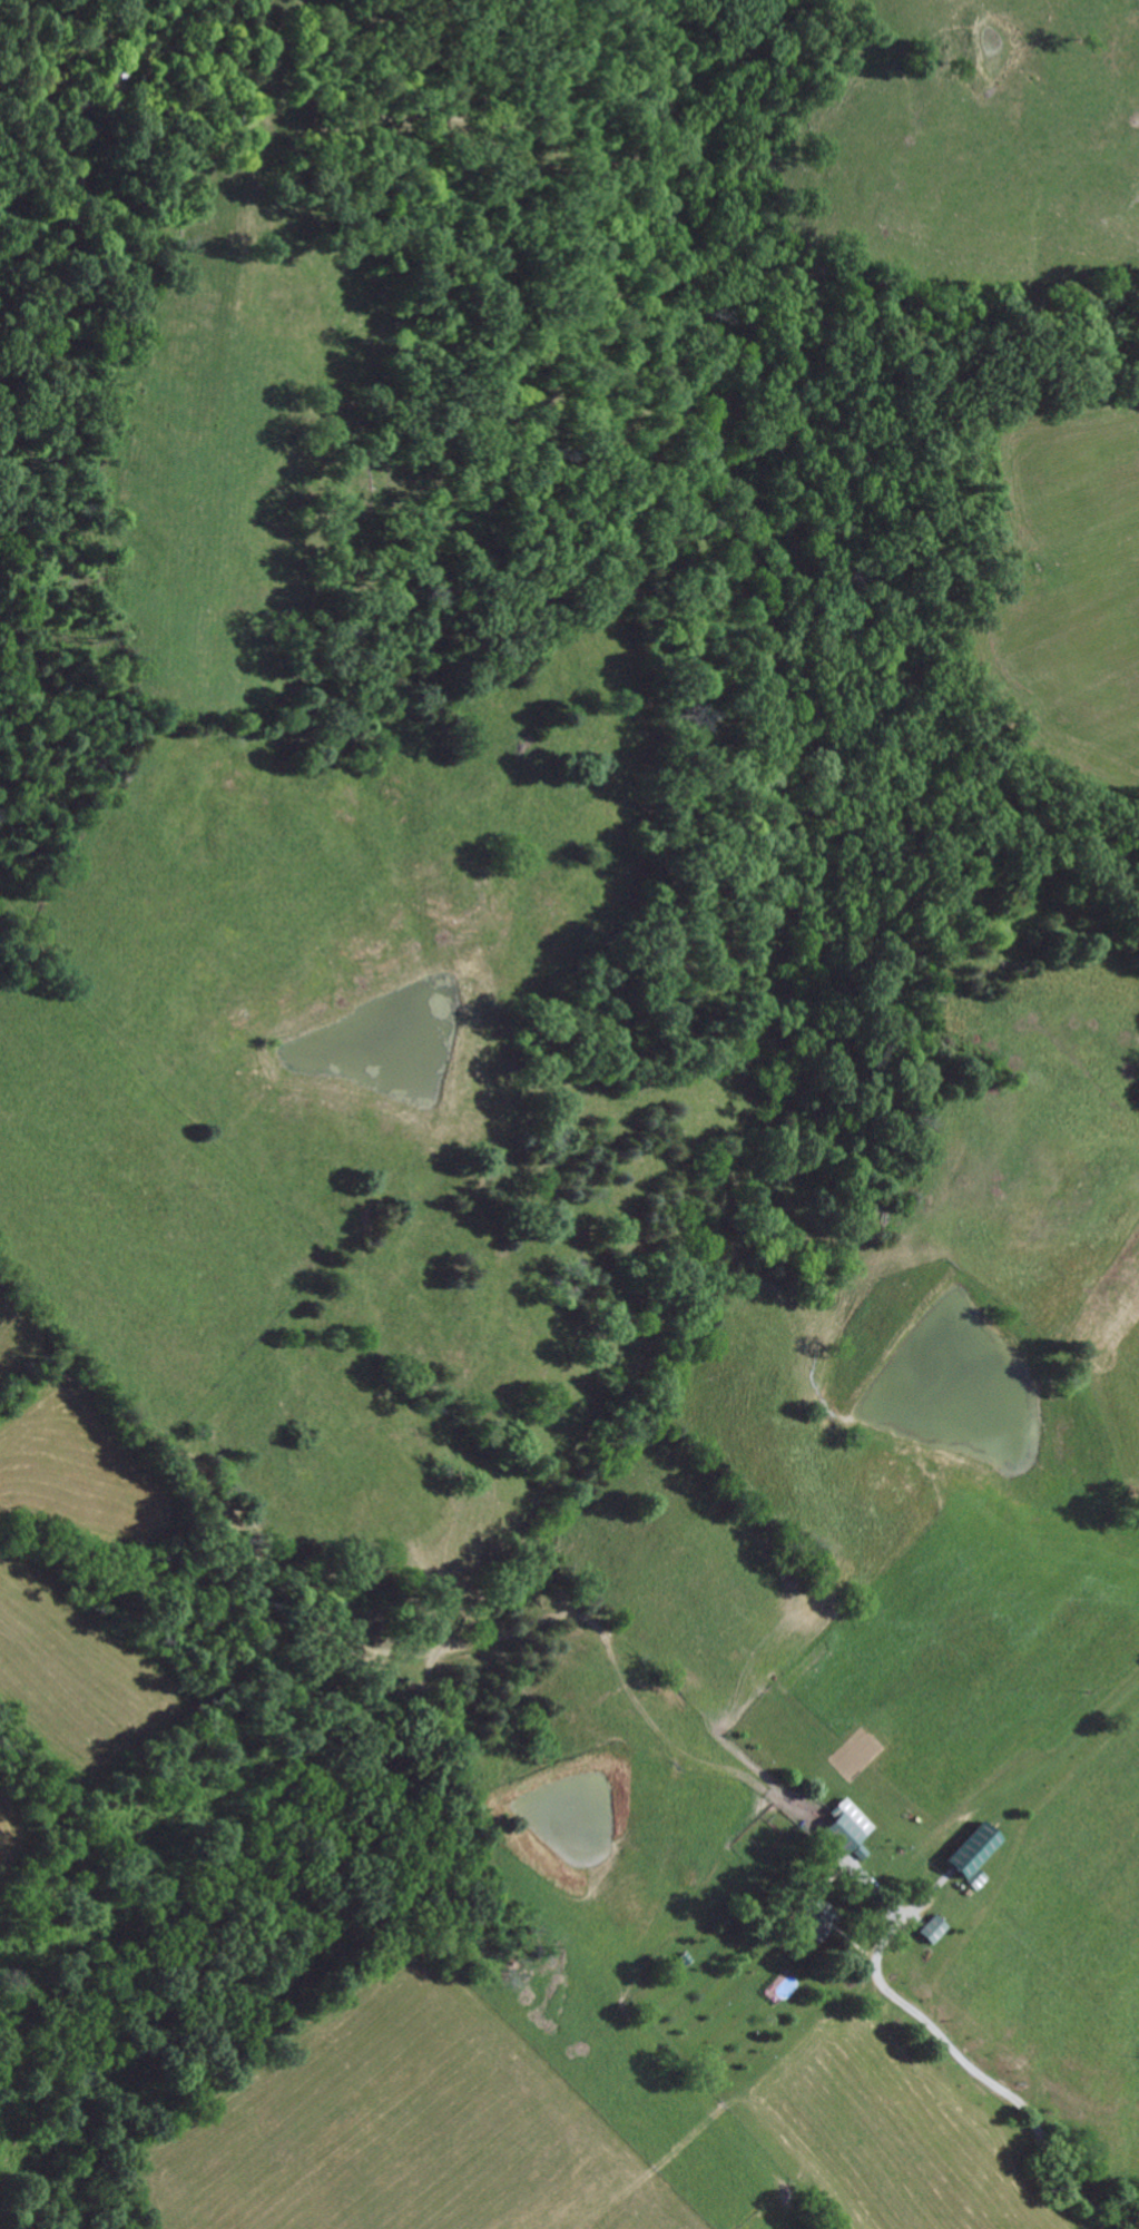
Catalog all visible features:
park: (856, 1754)
building: (846, 1823)
building: (974, 1849)
building: (817, 1915)
building: (933, 1925)
road: (964, 2056)

